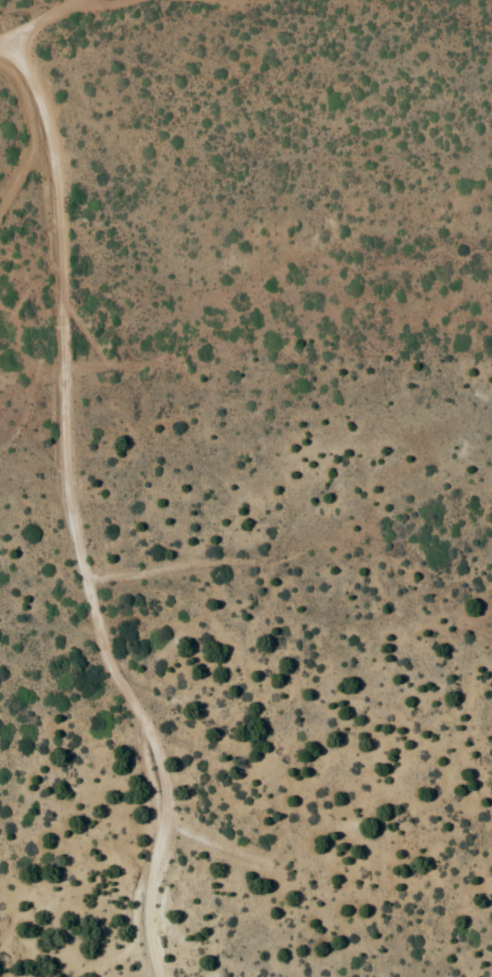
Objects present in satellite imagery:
road: (39, 20)
road: (74, 512)

